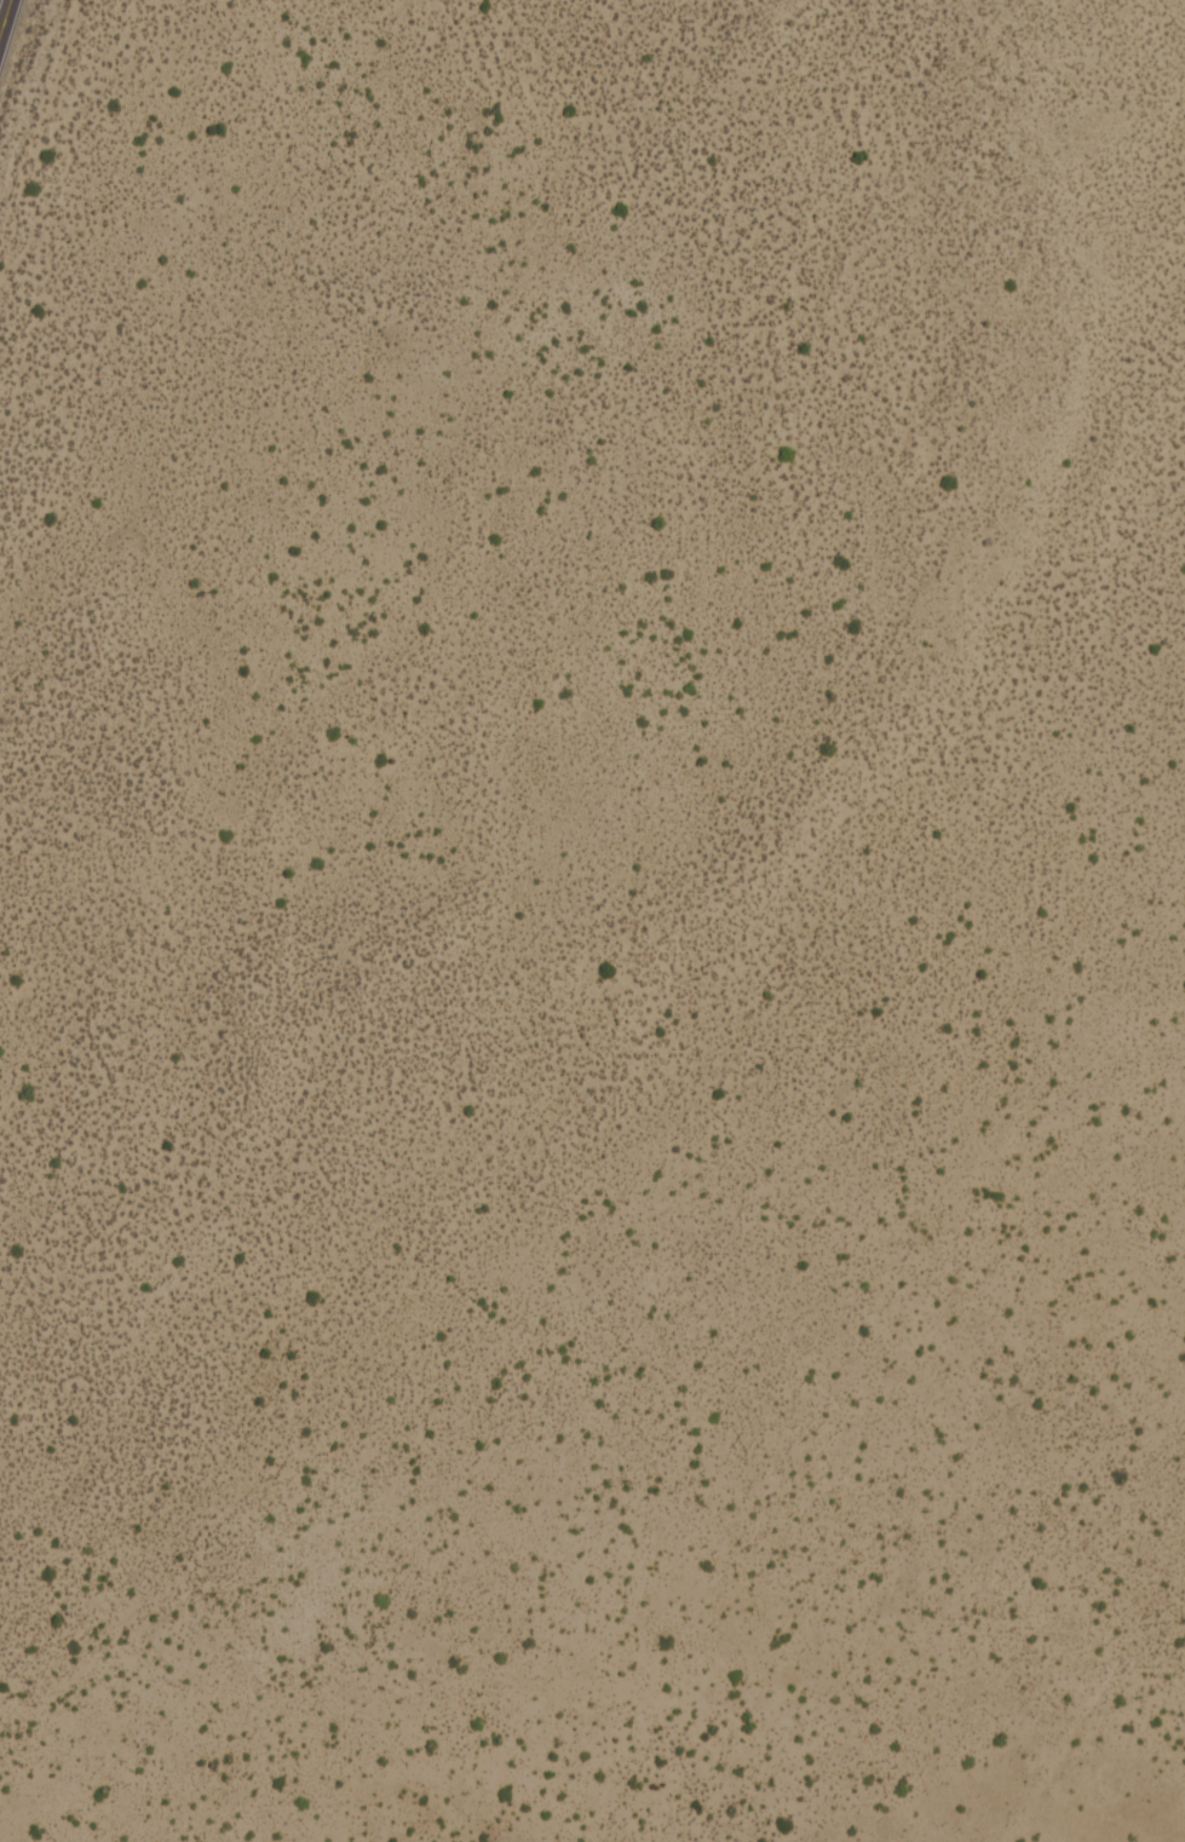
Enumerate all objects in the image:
road: (7, 25)

